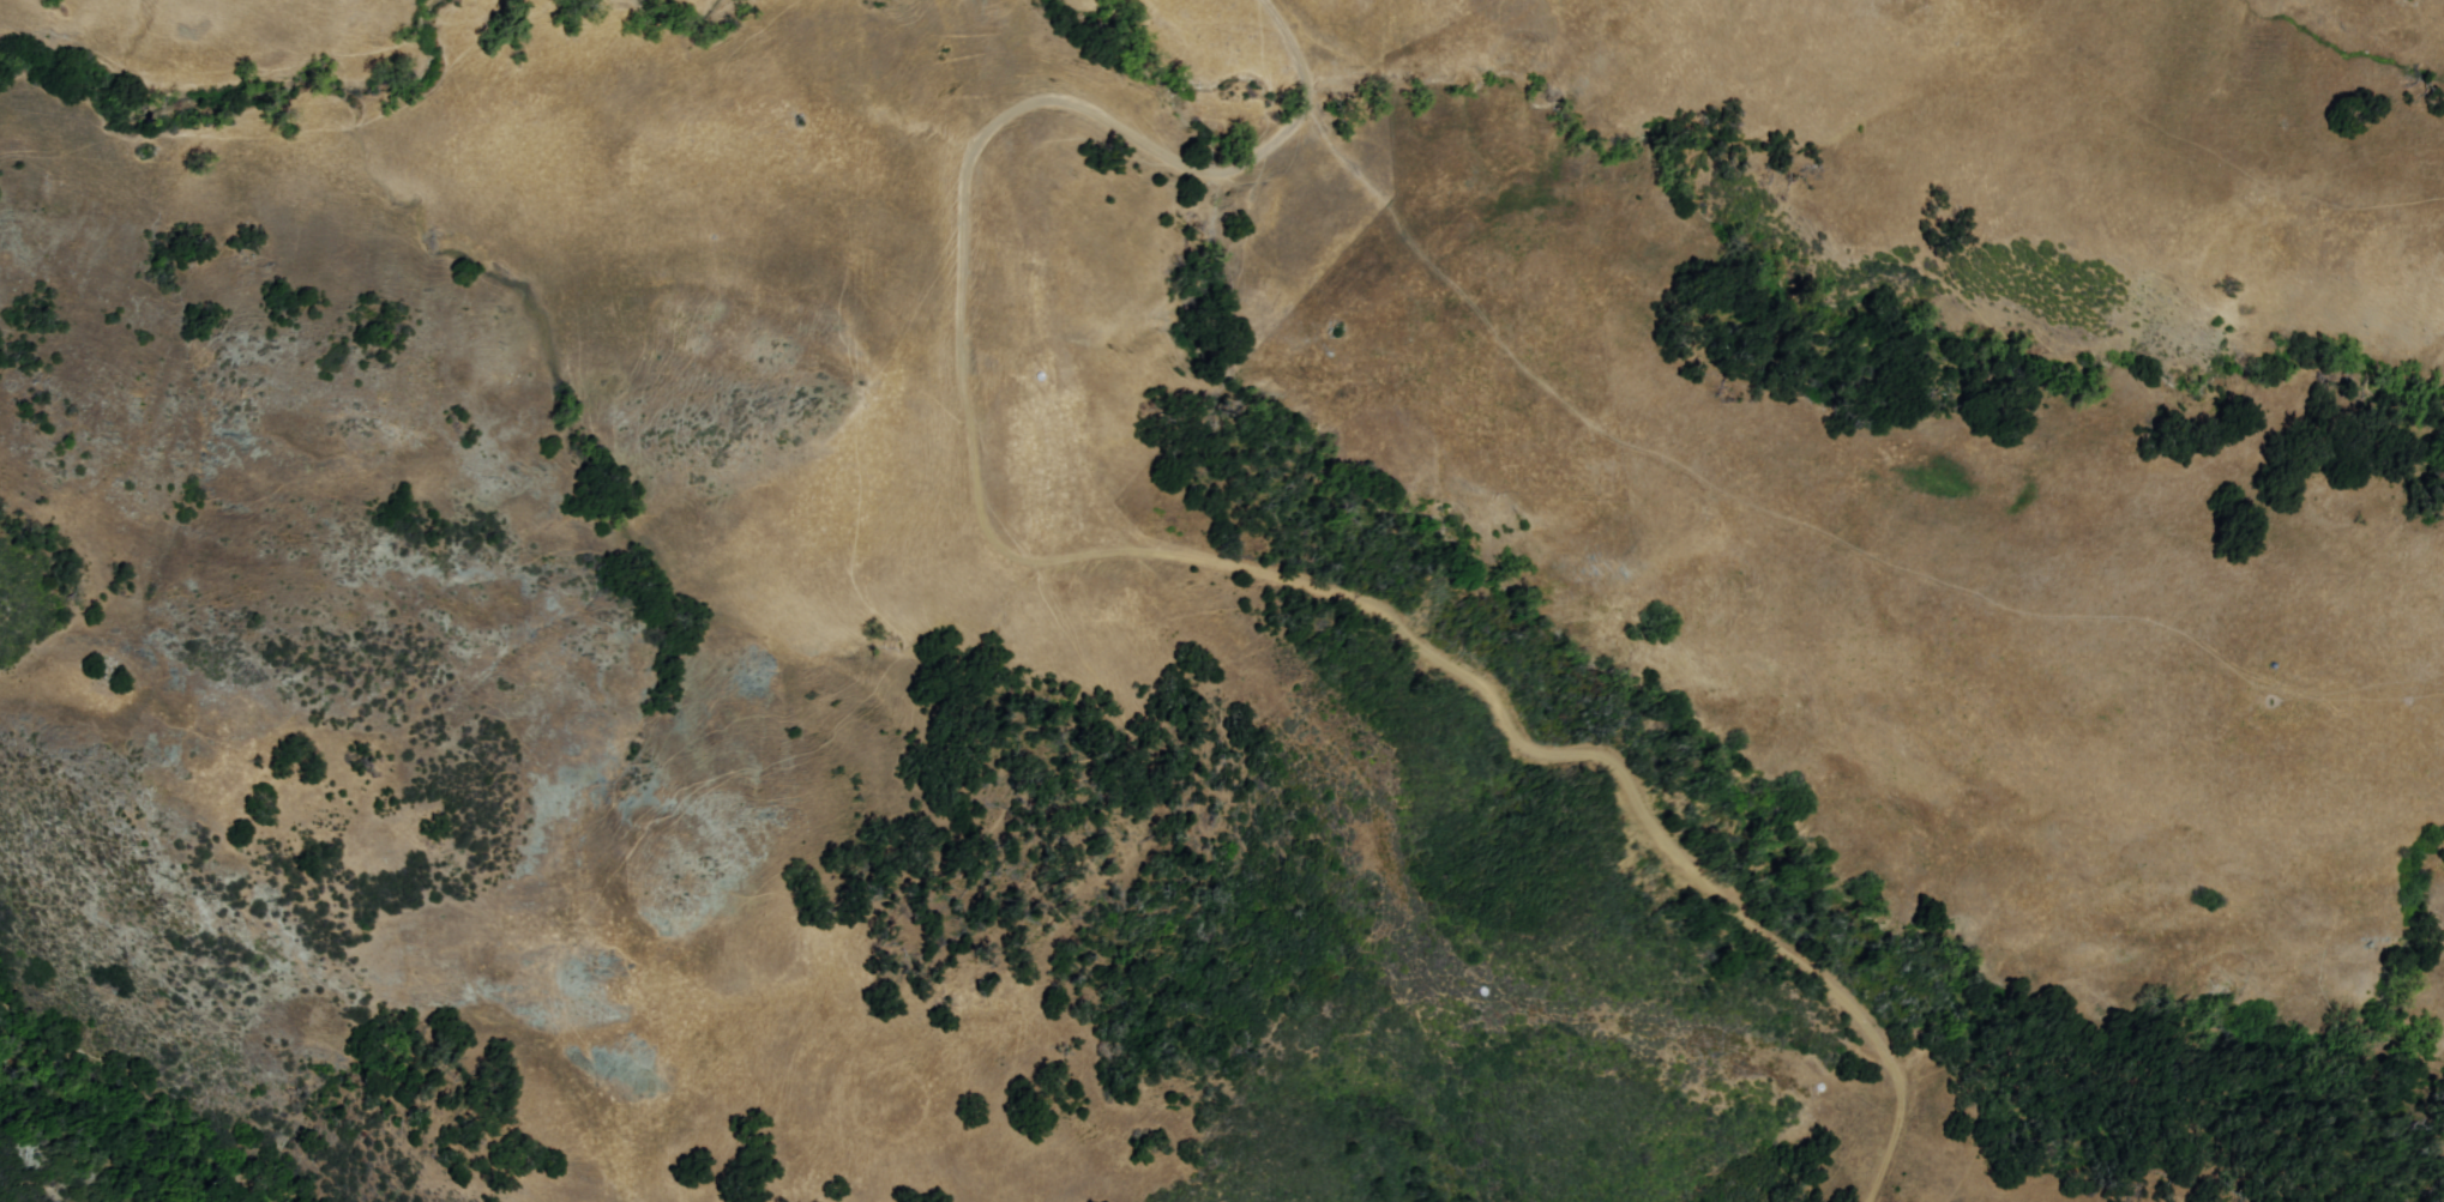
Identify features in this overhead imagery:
road: (1163, 555)
road: (140, 1085)
road: (36, 1182)

